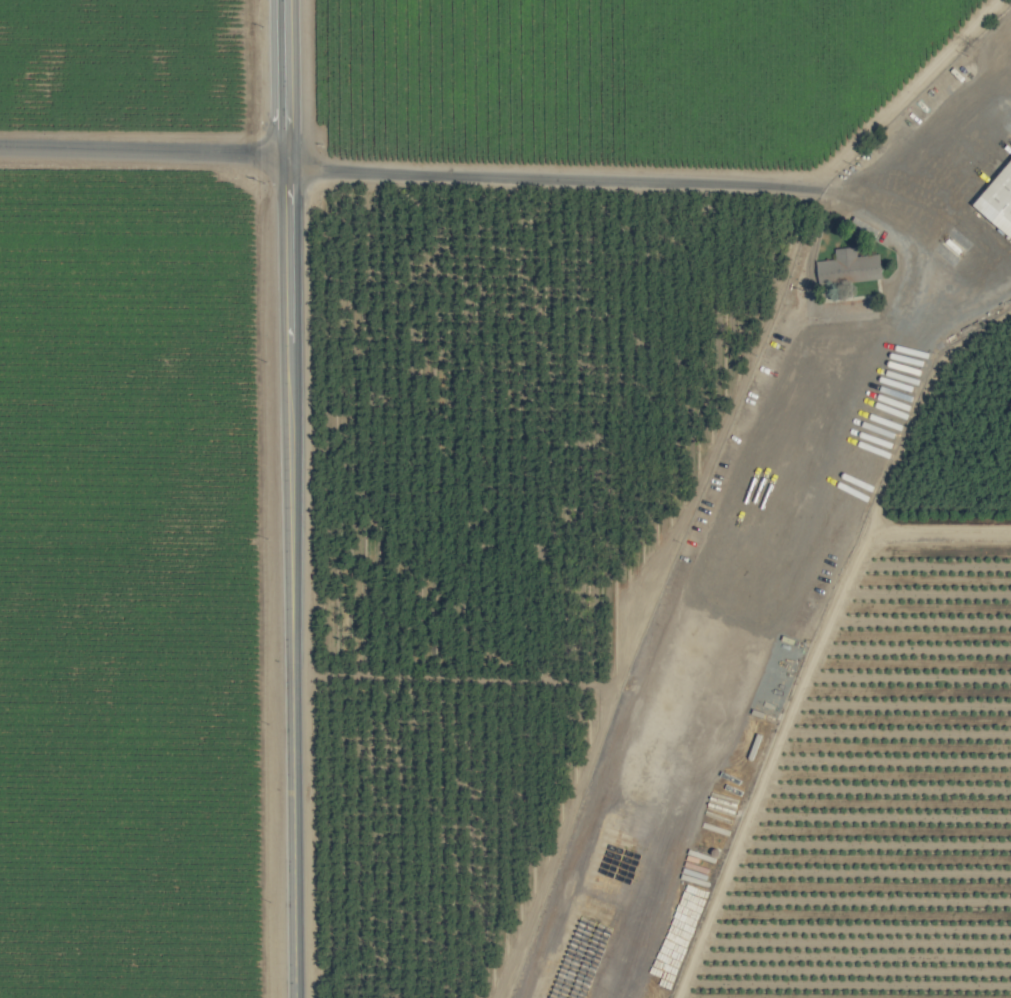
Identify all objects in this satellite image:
road: (904, 94)
road: (142, 155)
road: (680, 179)
building: (998, 199)
building: (850, 266)
road: (290, 498)
crop: (505, 499)

